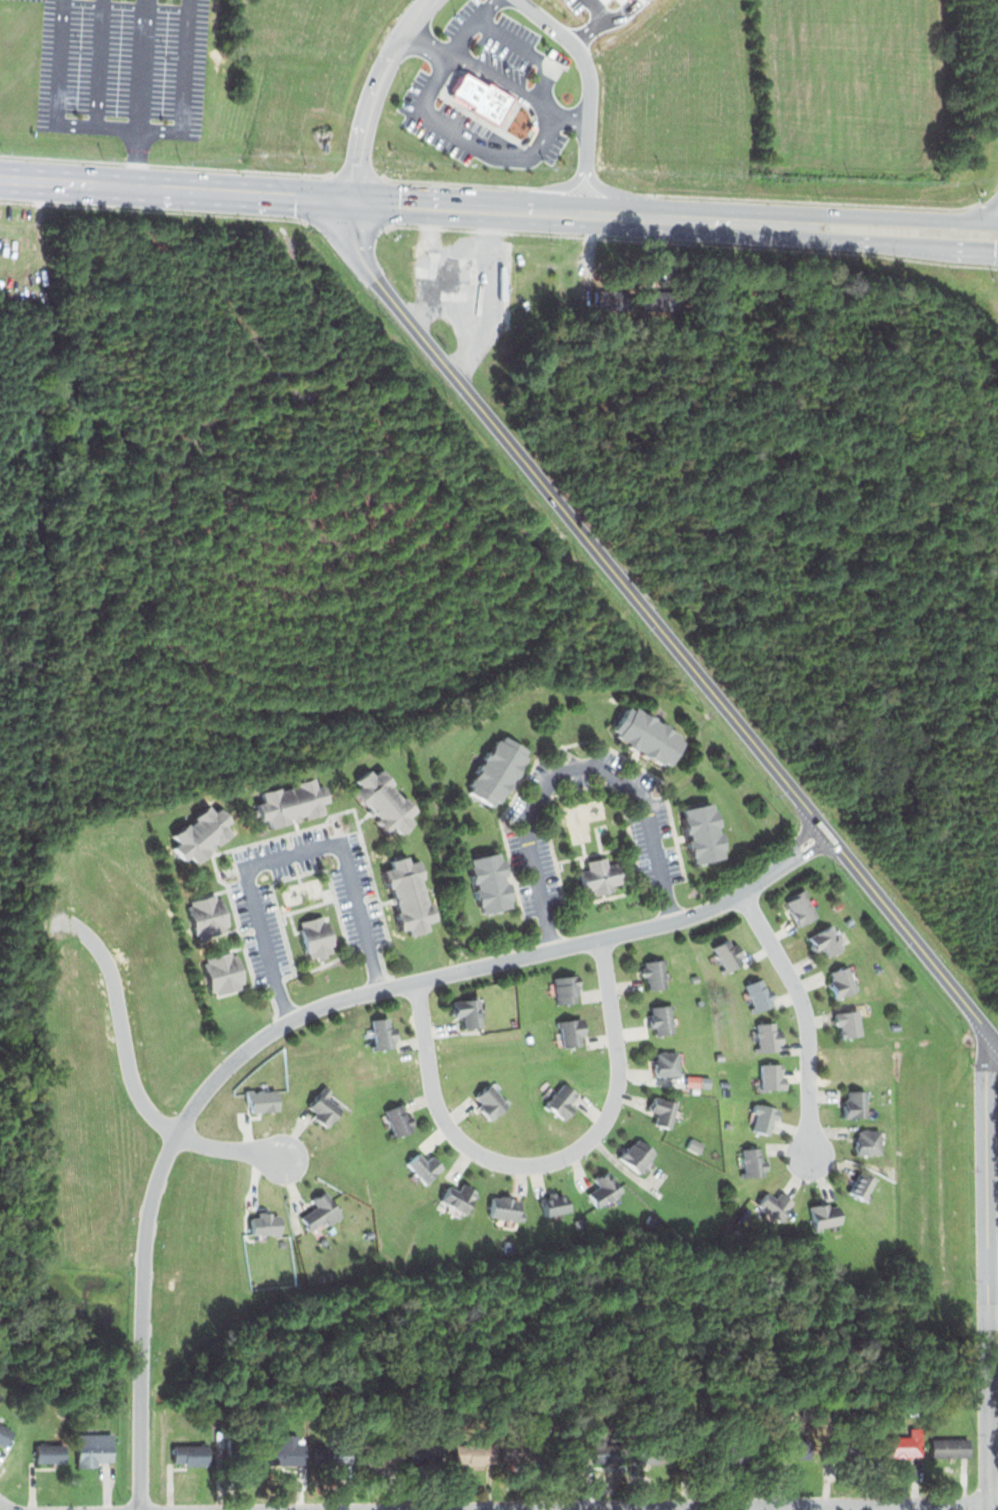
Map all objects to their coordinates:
road: (455, 46)
road: (98, 63)
road: (542, 67)
road: (500, 76)
crop: (857, 83)
road: (138, 92)
road: (589, 92)
road: (375, 93)
road: (122, 127)
road: (450, 127)
road: (547, 135)
road: (176, 187)
traffic signals: (352, 200)
road: (544, 210)
road: (867, 217)
road: (867, 238)
building: (616, 299)
road: (652, 619)
building: (651, 734)
road: (575, 770)
building: (498, 771)
building: (293, 801)
building: (386, 801)
building: (202, 834)
building: (705, 834)
road: (802, 834)
road: (813, 850)
road: (288, 857)
building: (601, 877)
building: (492, 883)
building: (411, 895)
building: (838, 905)
building: (800, 907)
building: (209, 913)
building: (848, 921)
building: (317, 935)
building: (827, 940)
building: (730, 956)
building: (878, 969)
building: (224, 972)
building: (655, 973)
building: (694, 979)
building: (844, 980)
building: (568, 990)
building: (759, 995)
building: (700, 1001)
building: (469, 1010)
building: (892, 1012)
road: (805, 1015)
building: (661, 1018)
building: (513, 1021)
building: (849, 1022)
road: (284, 1023)
building: (893, 1025)
building: (384, 1033)
building: (570, 1033)
building: (768, 1036)
road: (991, 1036)
building: (529, 1038)
building: (665, 1065)
building: (347, 1067)
building: (725, 1072)
building: (773, 1077)
building: (704, 1082)
road: (135, 1083)
building: (491, 1100)
building: (559, 1101)
building: (855, 1104)
building: (326, 1110)
building: (663, 1112)
building: (764, 1117)
building: (400, 1121)
building: (728, 1124)
building: (868, 1143)
building: (713, 1153)
building: (635, 1156)
road: (543, 1162)
building: (752, 1162)
building: (425, 1169)
building: (861, 1185)
building: (605, 1188)
building: (658, 1193)
building: (459, 1198)
building: (777, 1203)
building: (554, 1204)
building: (506, 1208)
building: (320, 1210)
building: (827, 1215)
building: (651, 1219)
building: (578, 1222)
building: (369, 1233)
building: (509, 1246)
building: (412, 1249)
road: (992, 1265)
road: (987, 1268)
building: (5, 1434)
building: (903, 1446)
building: (950, 1447)
building: (850, 1448)
building: (95, 1449)
building: (223, 1450)
building: (567, 1451)
building: (50, 1452)
building: (524, 1452)
building: (287, 1453)
building: (380, 1453)
building: (425, 1453)
building: (798, 1453)
building: (475, 1454)
building: (610, 1454)
building: (655, 1454)
building: (705, 1454)
building: (190, 1455)
building: (332, 1455)
building: (752, 1455)
building: (238, 1457)
road: (686, 1503)
road: (4, 1506)
road: (561, 1508)

